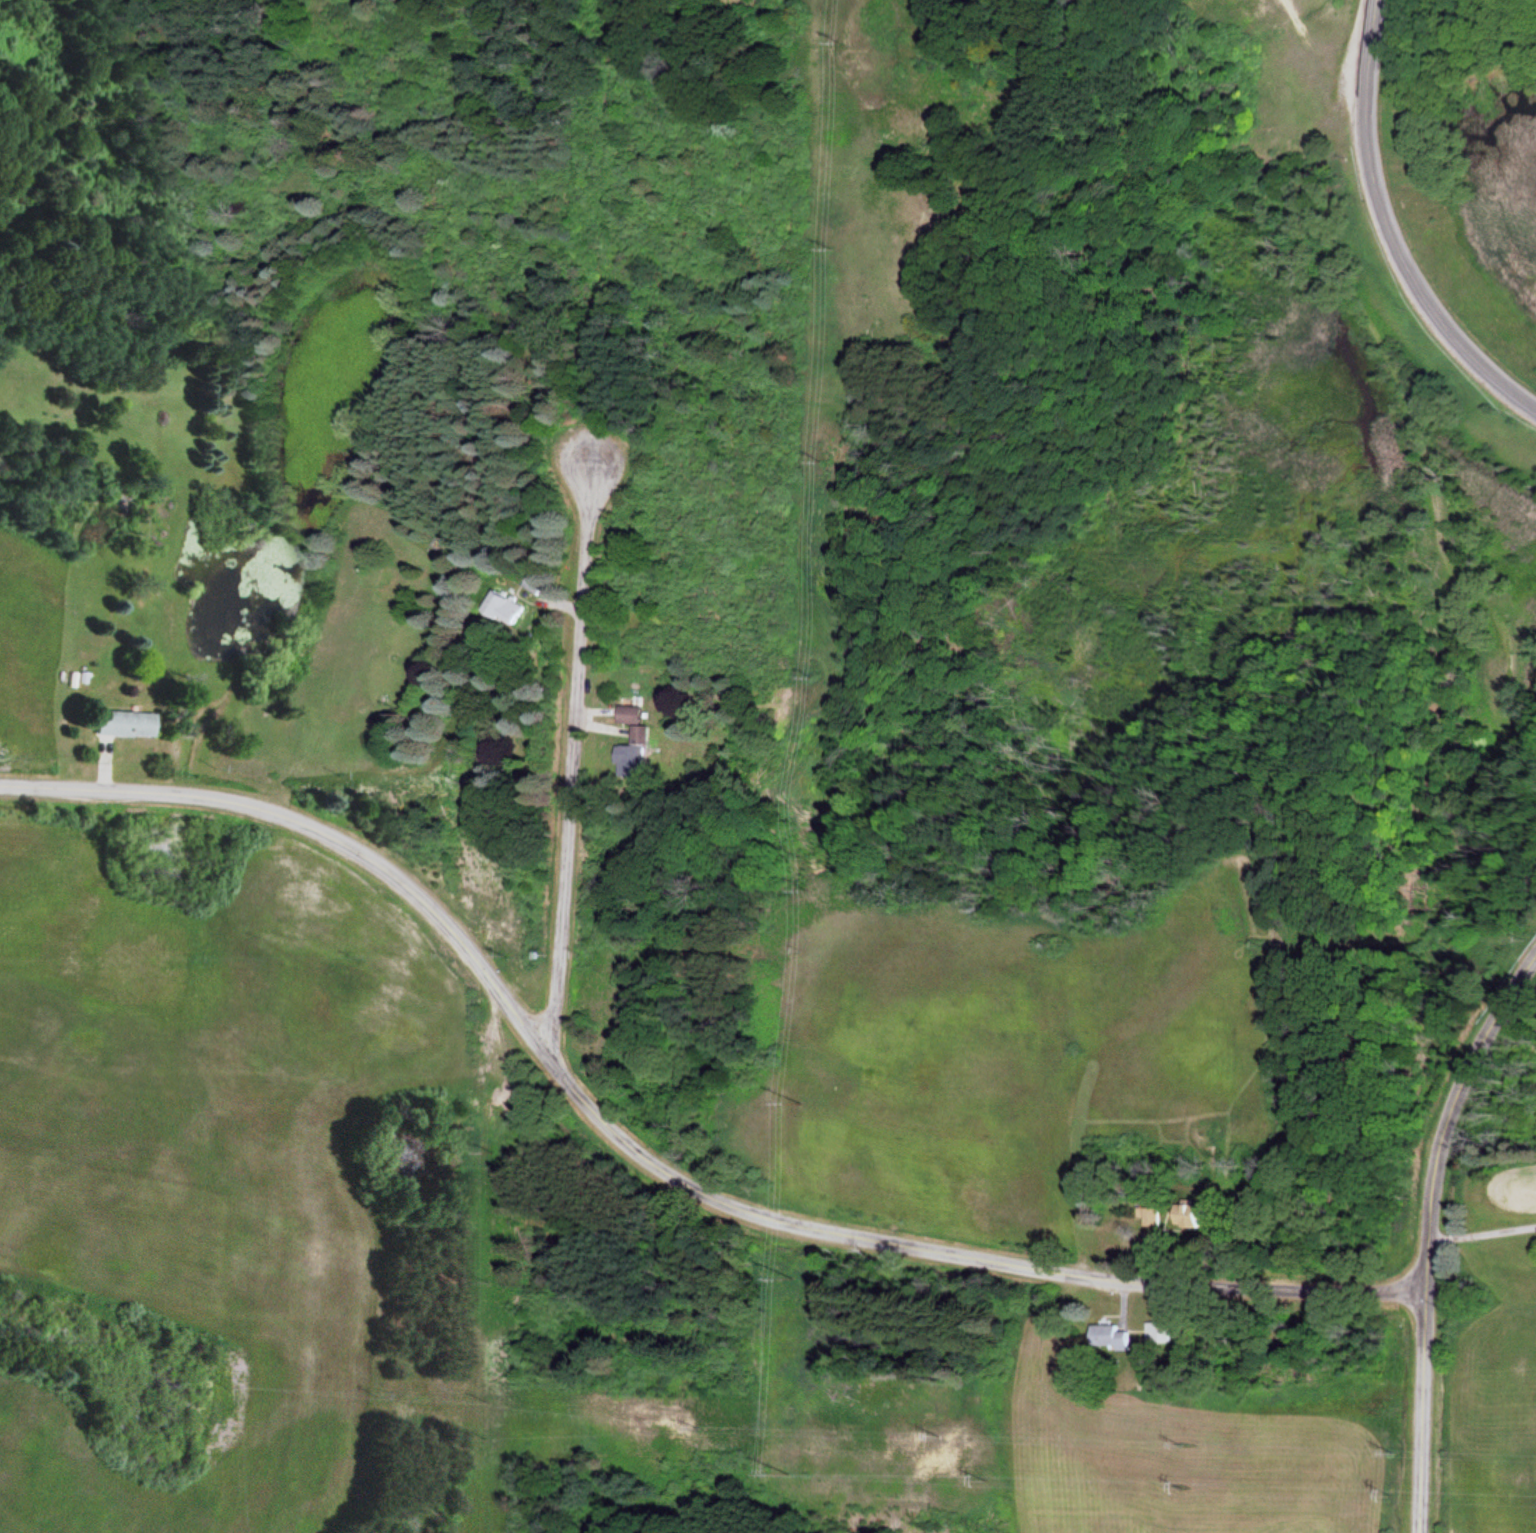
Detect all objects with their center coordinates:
road: (1368, 35)
road: (1399, 269)
road: (1407, 409)
building: (532, 584)
building: (502, 608)
building: (629, 711)
building: (120, 724)
building: (636, 751)
road: (572, 766)
road: (1470, 1060)
road: (643, 1164)
building: (1190, 1216)
building: (1151, 1218)
building: (1161, 1333)
building: (1109, 1338)
road: (1421, 1354)

